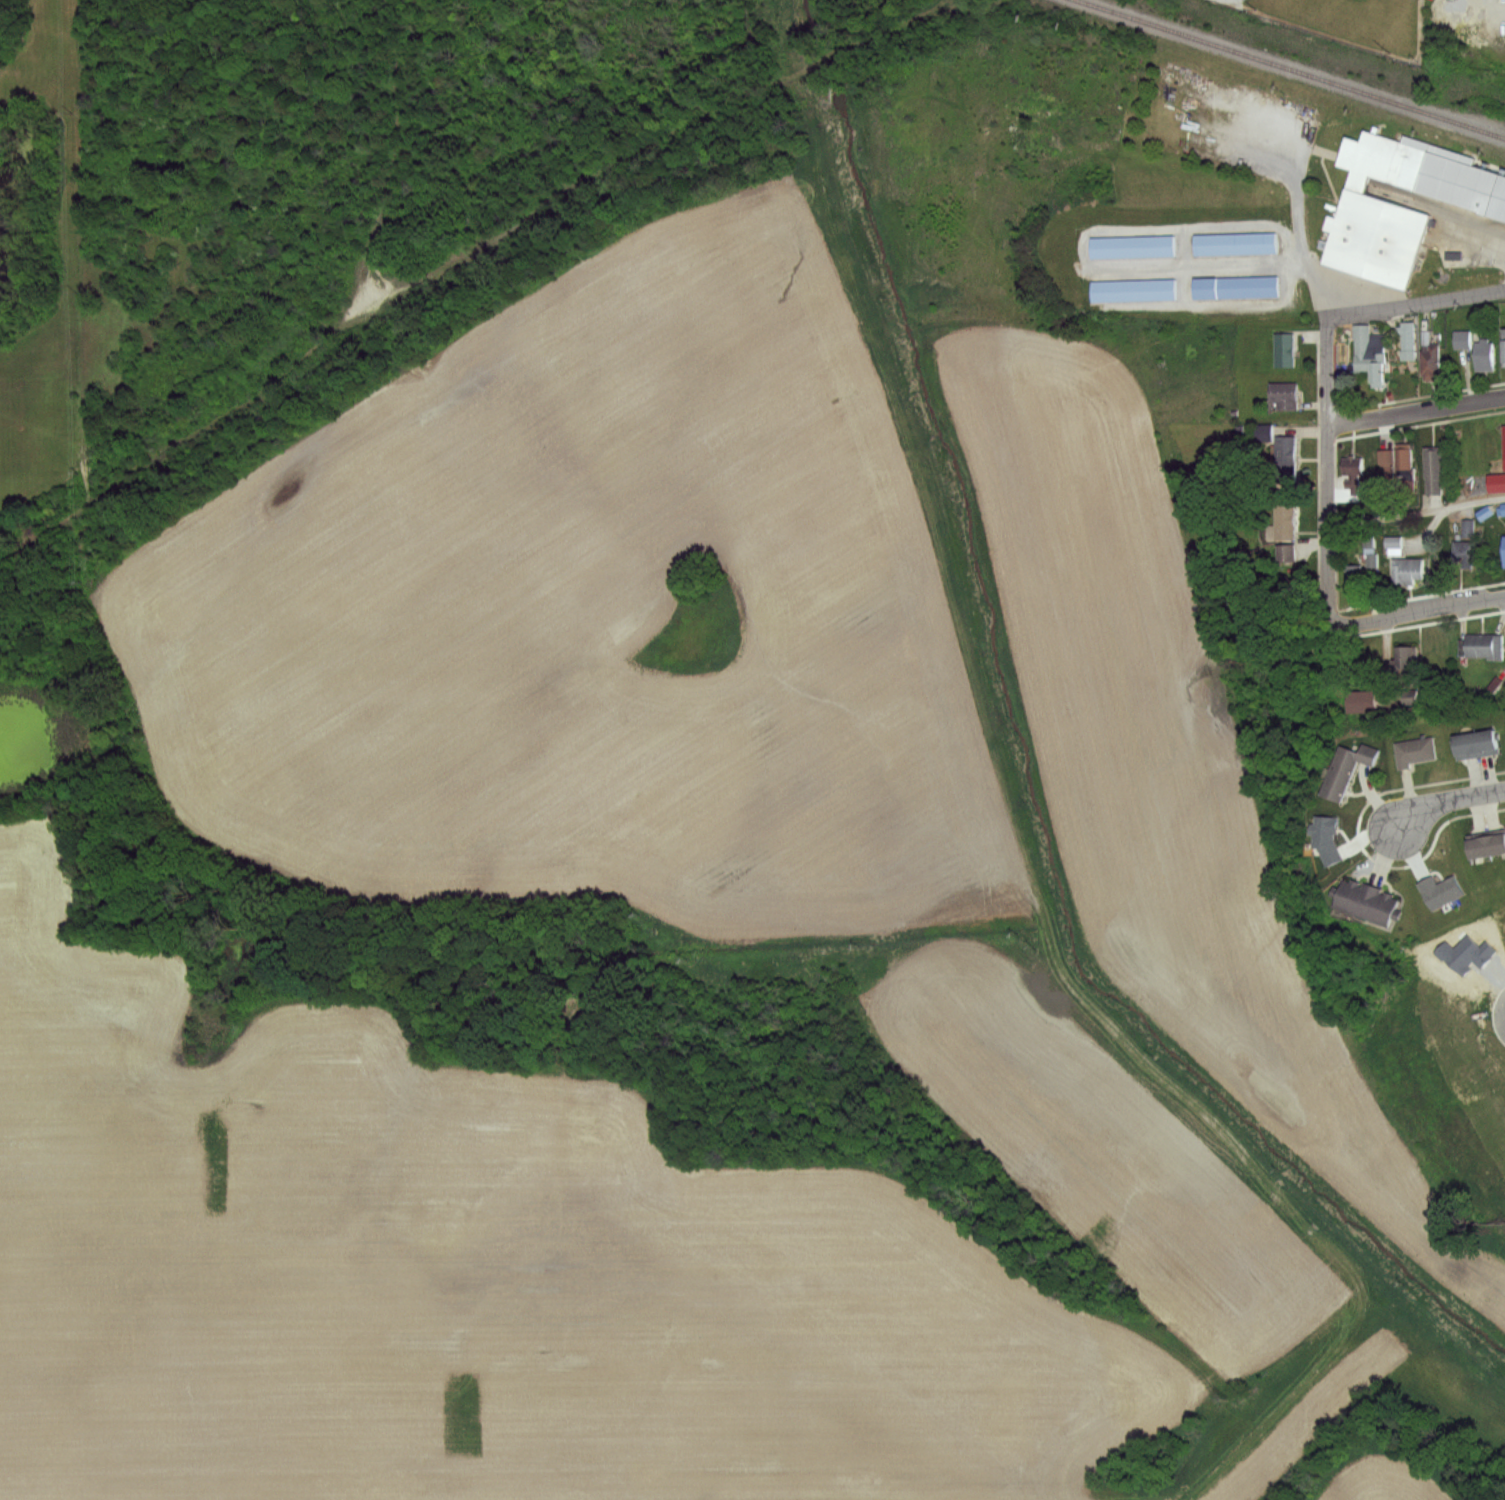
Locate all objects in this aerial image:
railway: (1289, 69)
building: (1364, 207)
road: (1477, 225)
building: (1233, 243)
building: (1131, 247)
road: (1226, 264)
building: (1235, 288)
building: (1133, 292)
road: (1410, 299)
building: (1407, 335)
building: (1463, 339)
building: (1504, 347)
building: (1286, 350)
building: (1370, 352)
building: (1485, 356)
building: (1431, 362)
building: (1285, 395)
road: (1415, 408)
building: (1504, 447)
building: (1287, 458)
building: (1405, 458)
building: (1387, 463)
building: (1433, 469)
building: (1353, 472)
road: (1327, 479)
building: (1496, 483)
building: (1503, 508)
road: (1416, 513)
building: (1286, 521)
building: (1466, 528)
building: (1395, 545)
building: (1464, 551)
building: (1504, 551)
building: (1287, 554)
building: (1408, 569)
building: (1355, 576)
road: (1426, 608)
building: (1482, 645)
building: (1406, 660)
building: (1407, 696)
building: (1361, 702)
crop: (841, 745)
building: (1476, 745)
building: (1414, 751)
building: (1347, 770)
road: (1448, 801)
building: (1487, 847)
building: (1440, 892)
building: (1370, 901)
building: (1464, 953)
crop: (486, 1280)
crop: (1373, 1482)

